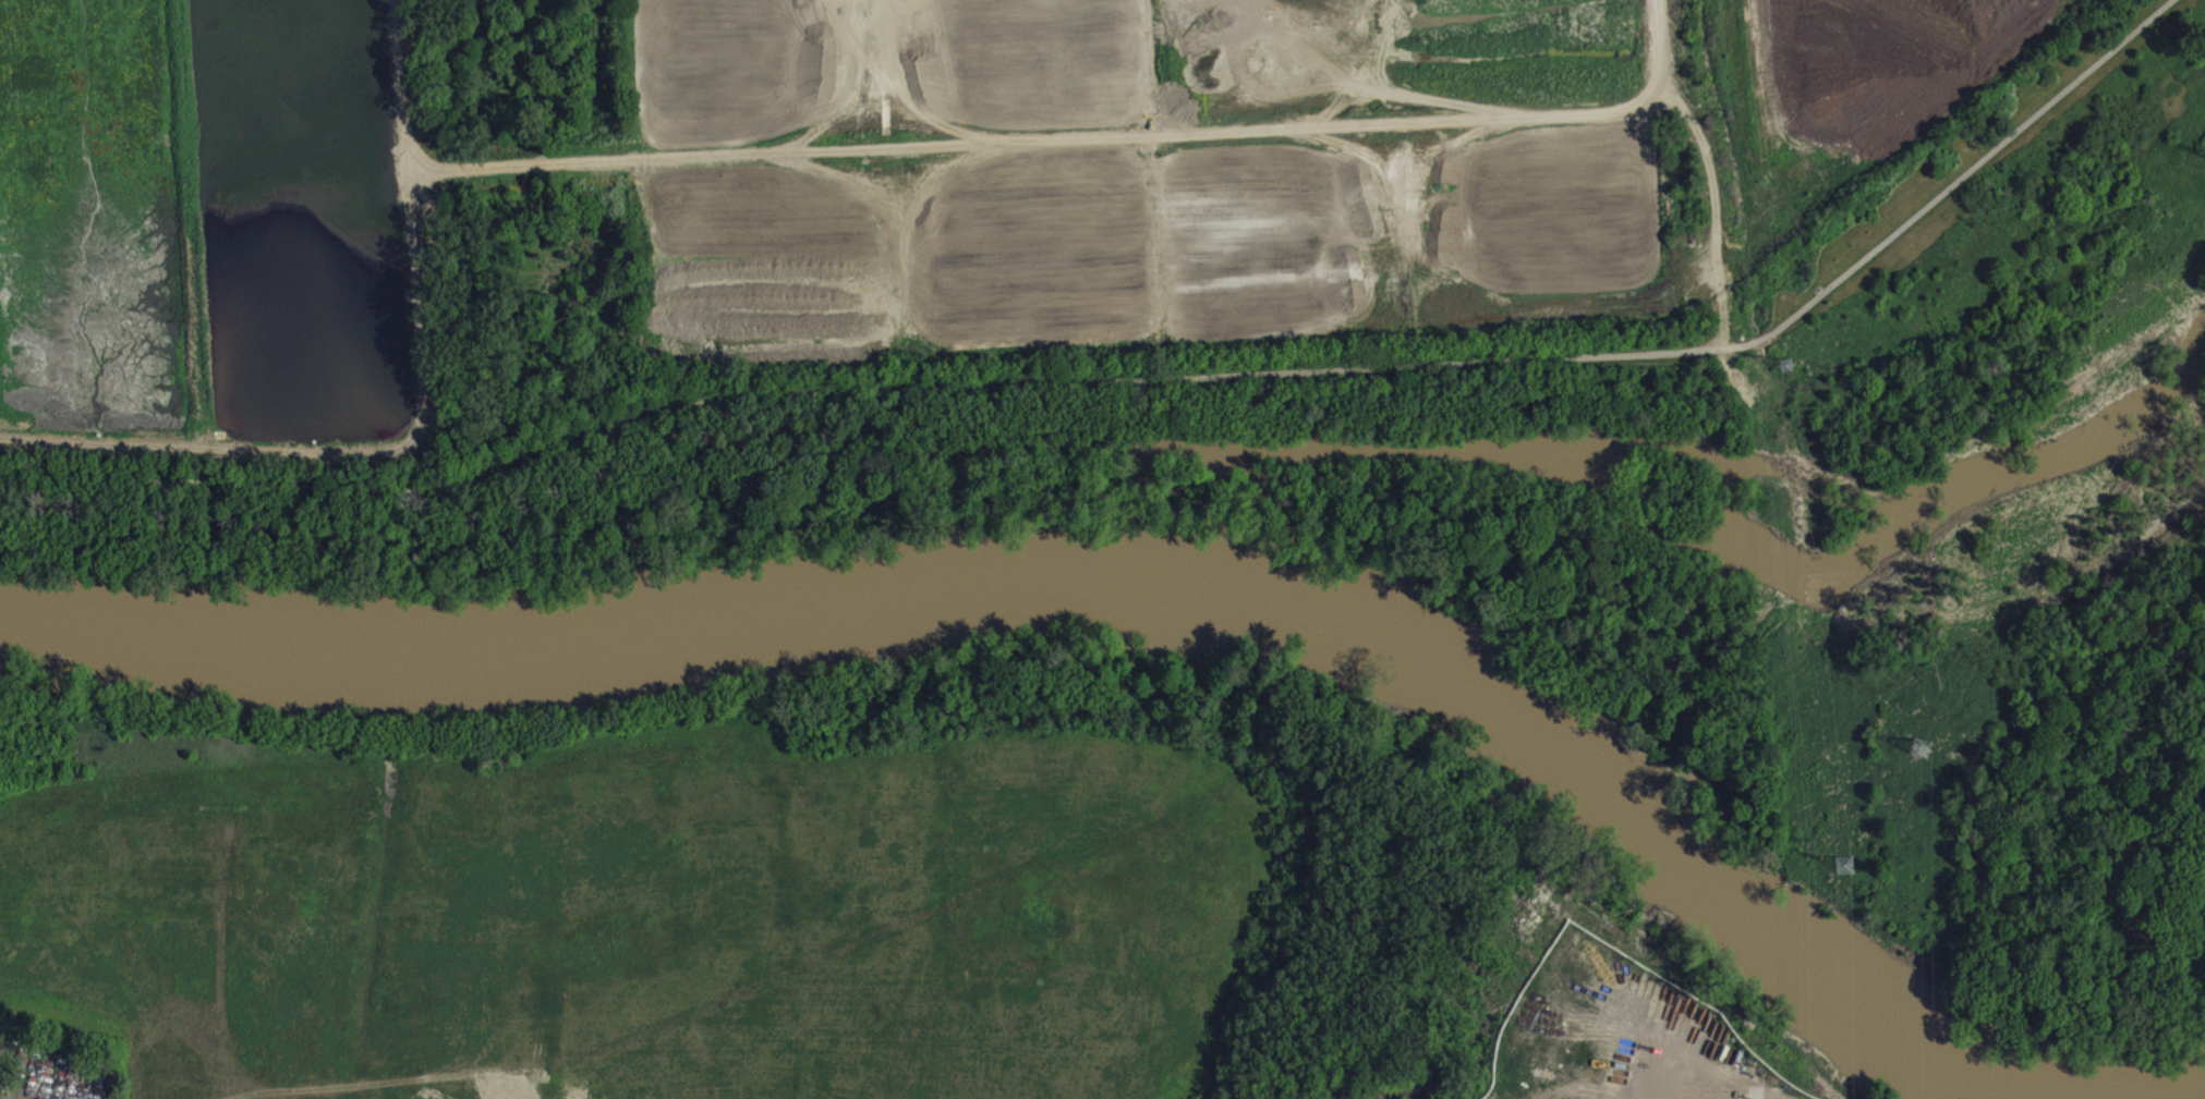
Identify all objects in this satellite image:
road: (1076, 138)
power tower: (1790, 365)
road: (1139, 377)
road: (419, 426)
river: (1083, 595)
power tower: (1926, 749)
power tower: (1846, 866)
river: (2185, 1096)

